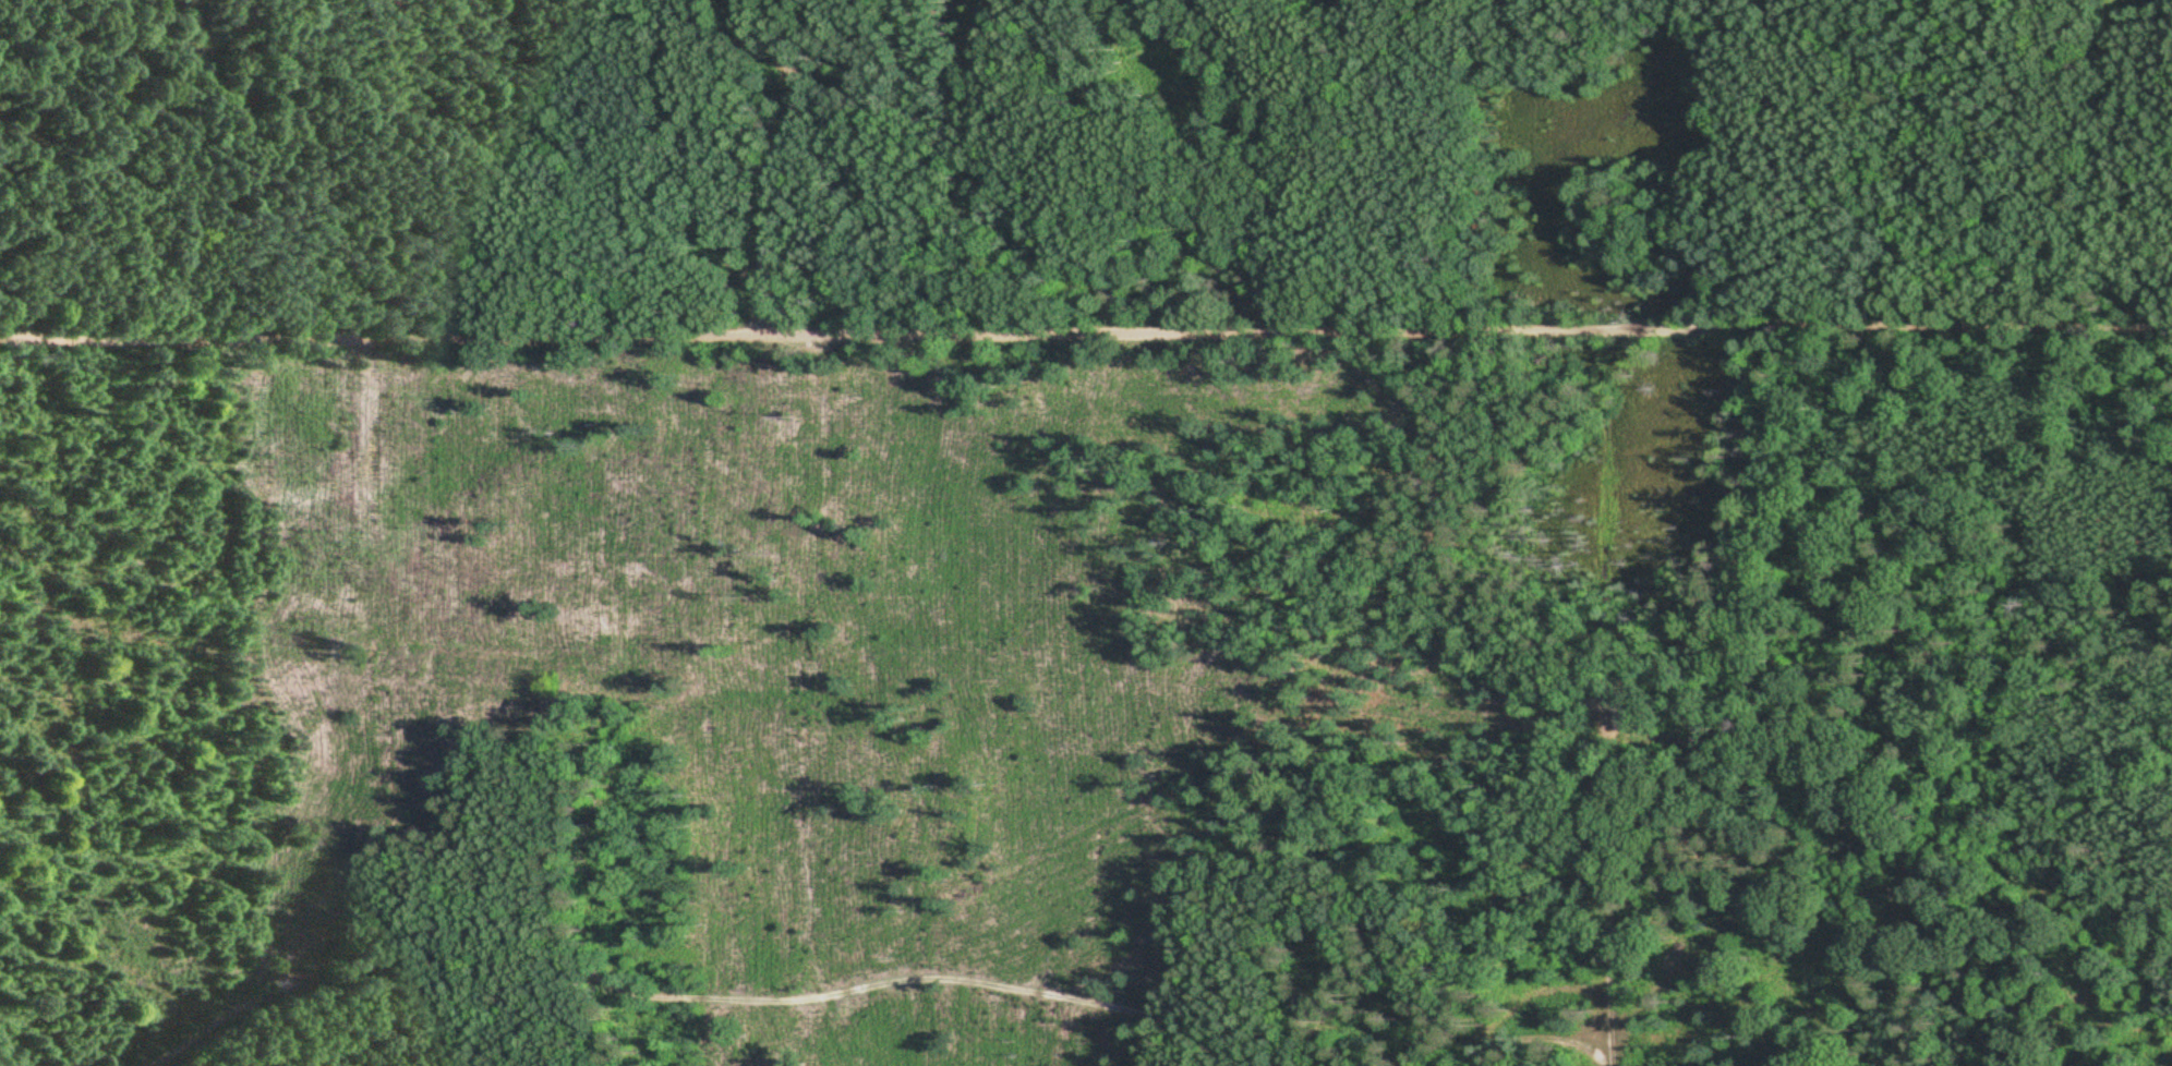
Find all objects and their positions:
road: (791, 157)
road: (1086, 335)
road: (1612, 889)
road: (705, 997)
road: (1536, 1043)
road: (5, 1064)

